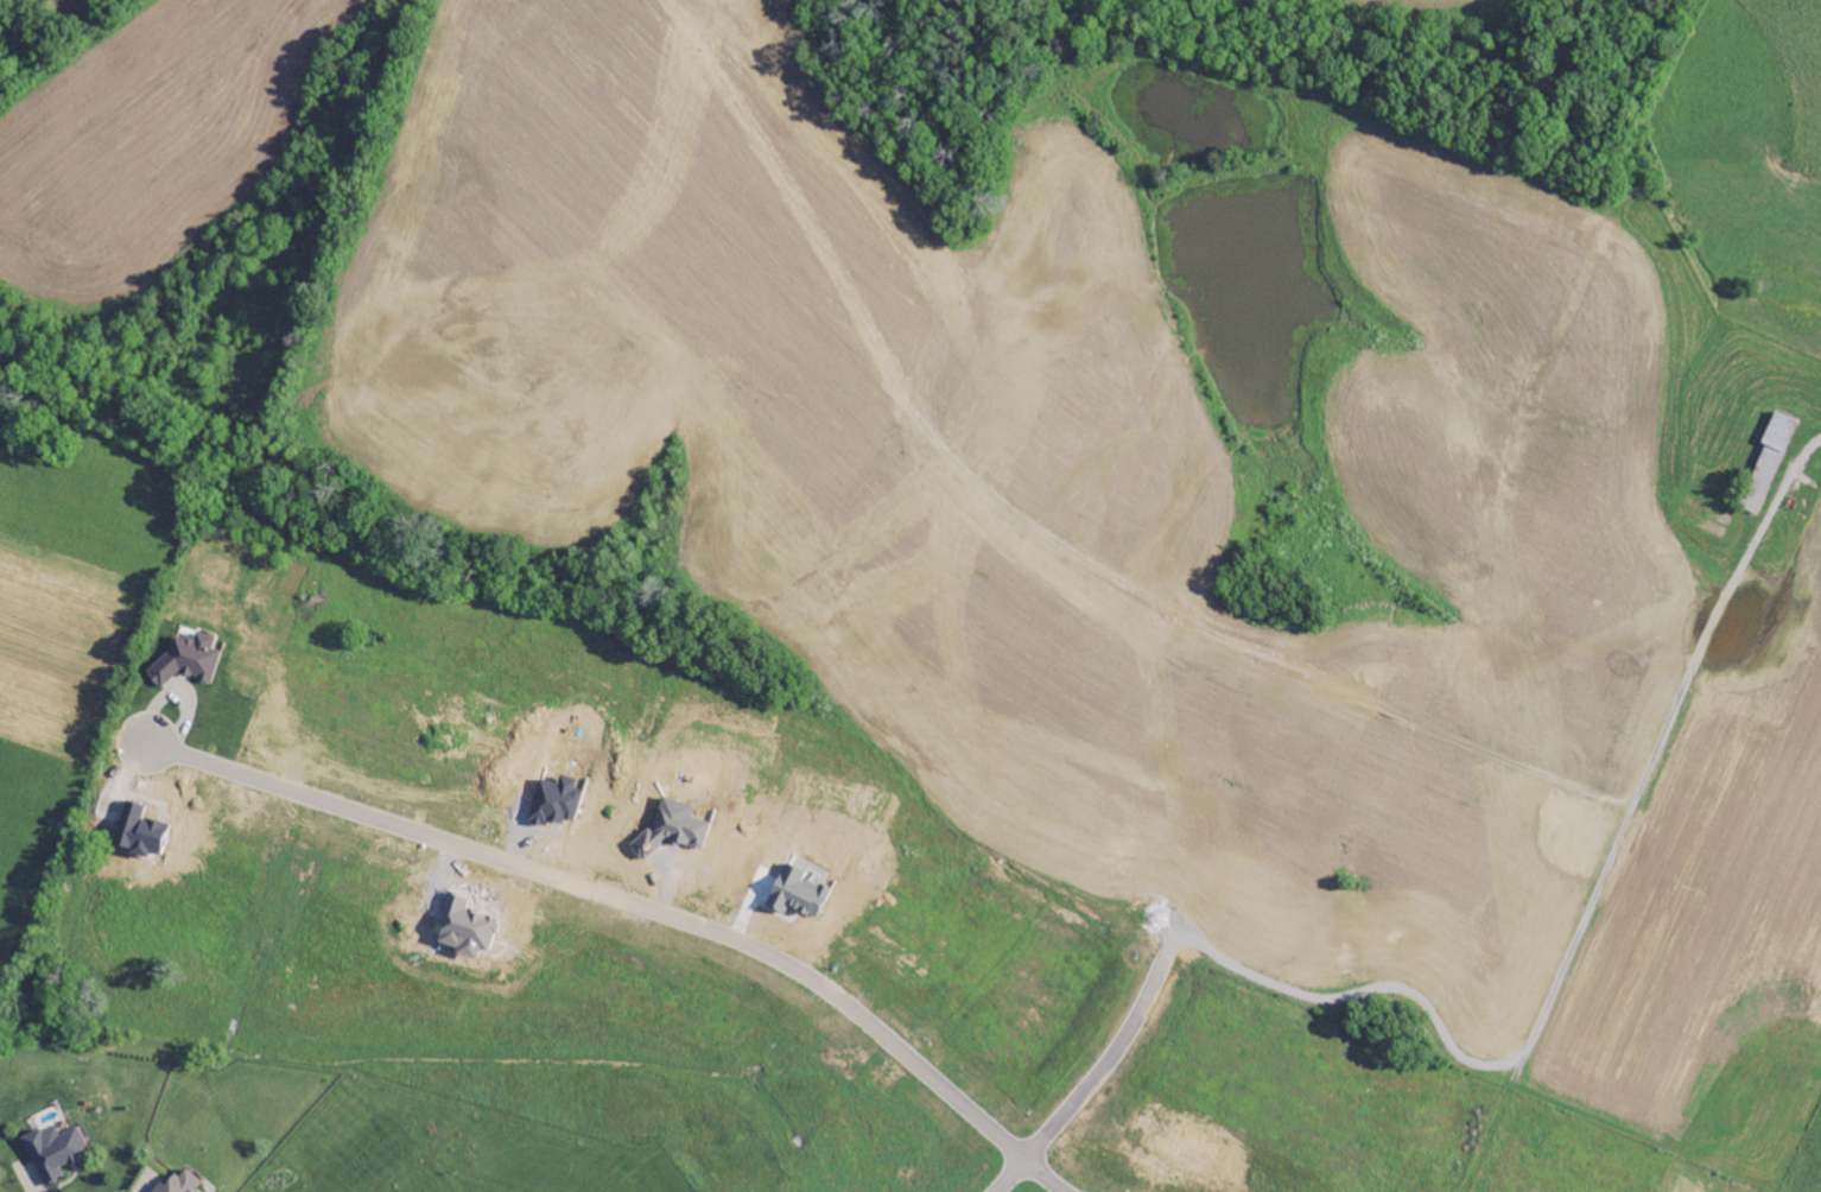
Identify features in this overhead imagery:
building: (1766, 463)
building: (186, 659)
road: (634, 906)
road: (1579, 926)
road: (1096, 1074)
building: (53, 1152)
building: (179, 1183)

